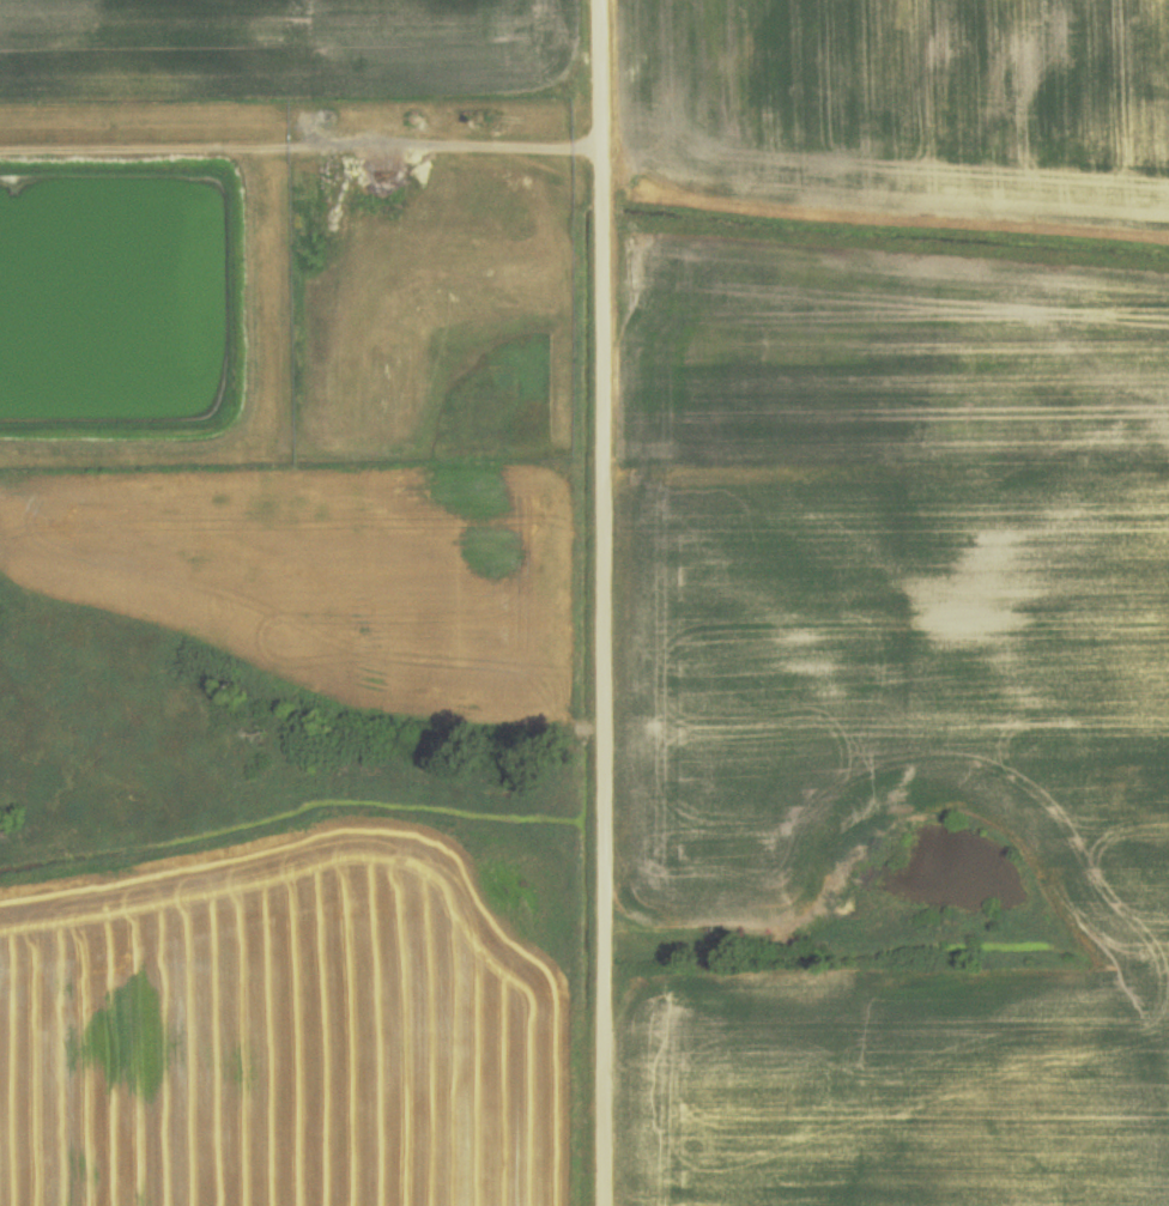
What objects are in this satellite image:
crop: (286, 48)
crop: (916, 93)
road: (424, 143)
wastewater plant: (140, 283)
road: (606, 602)

